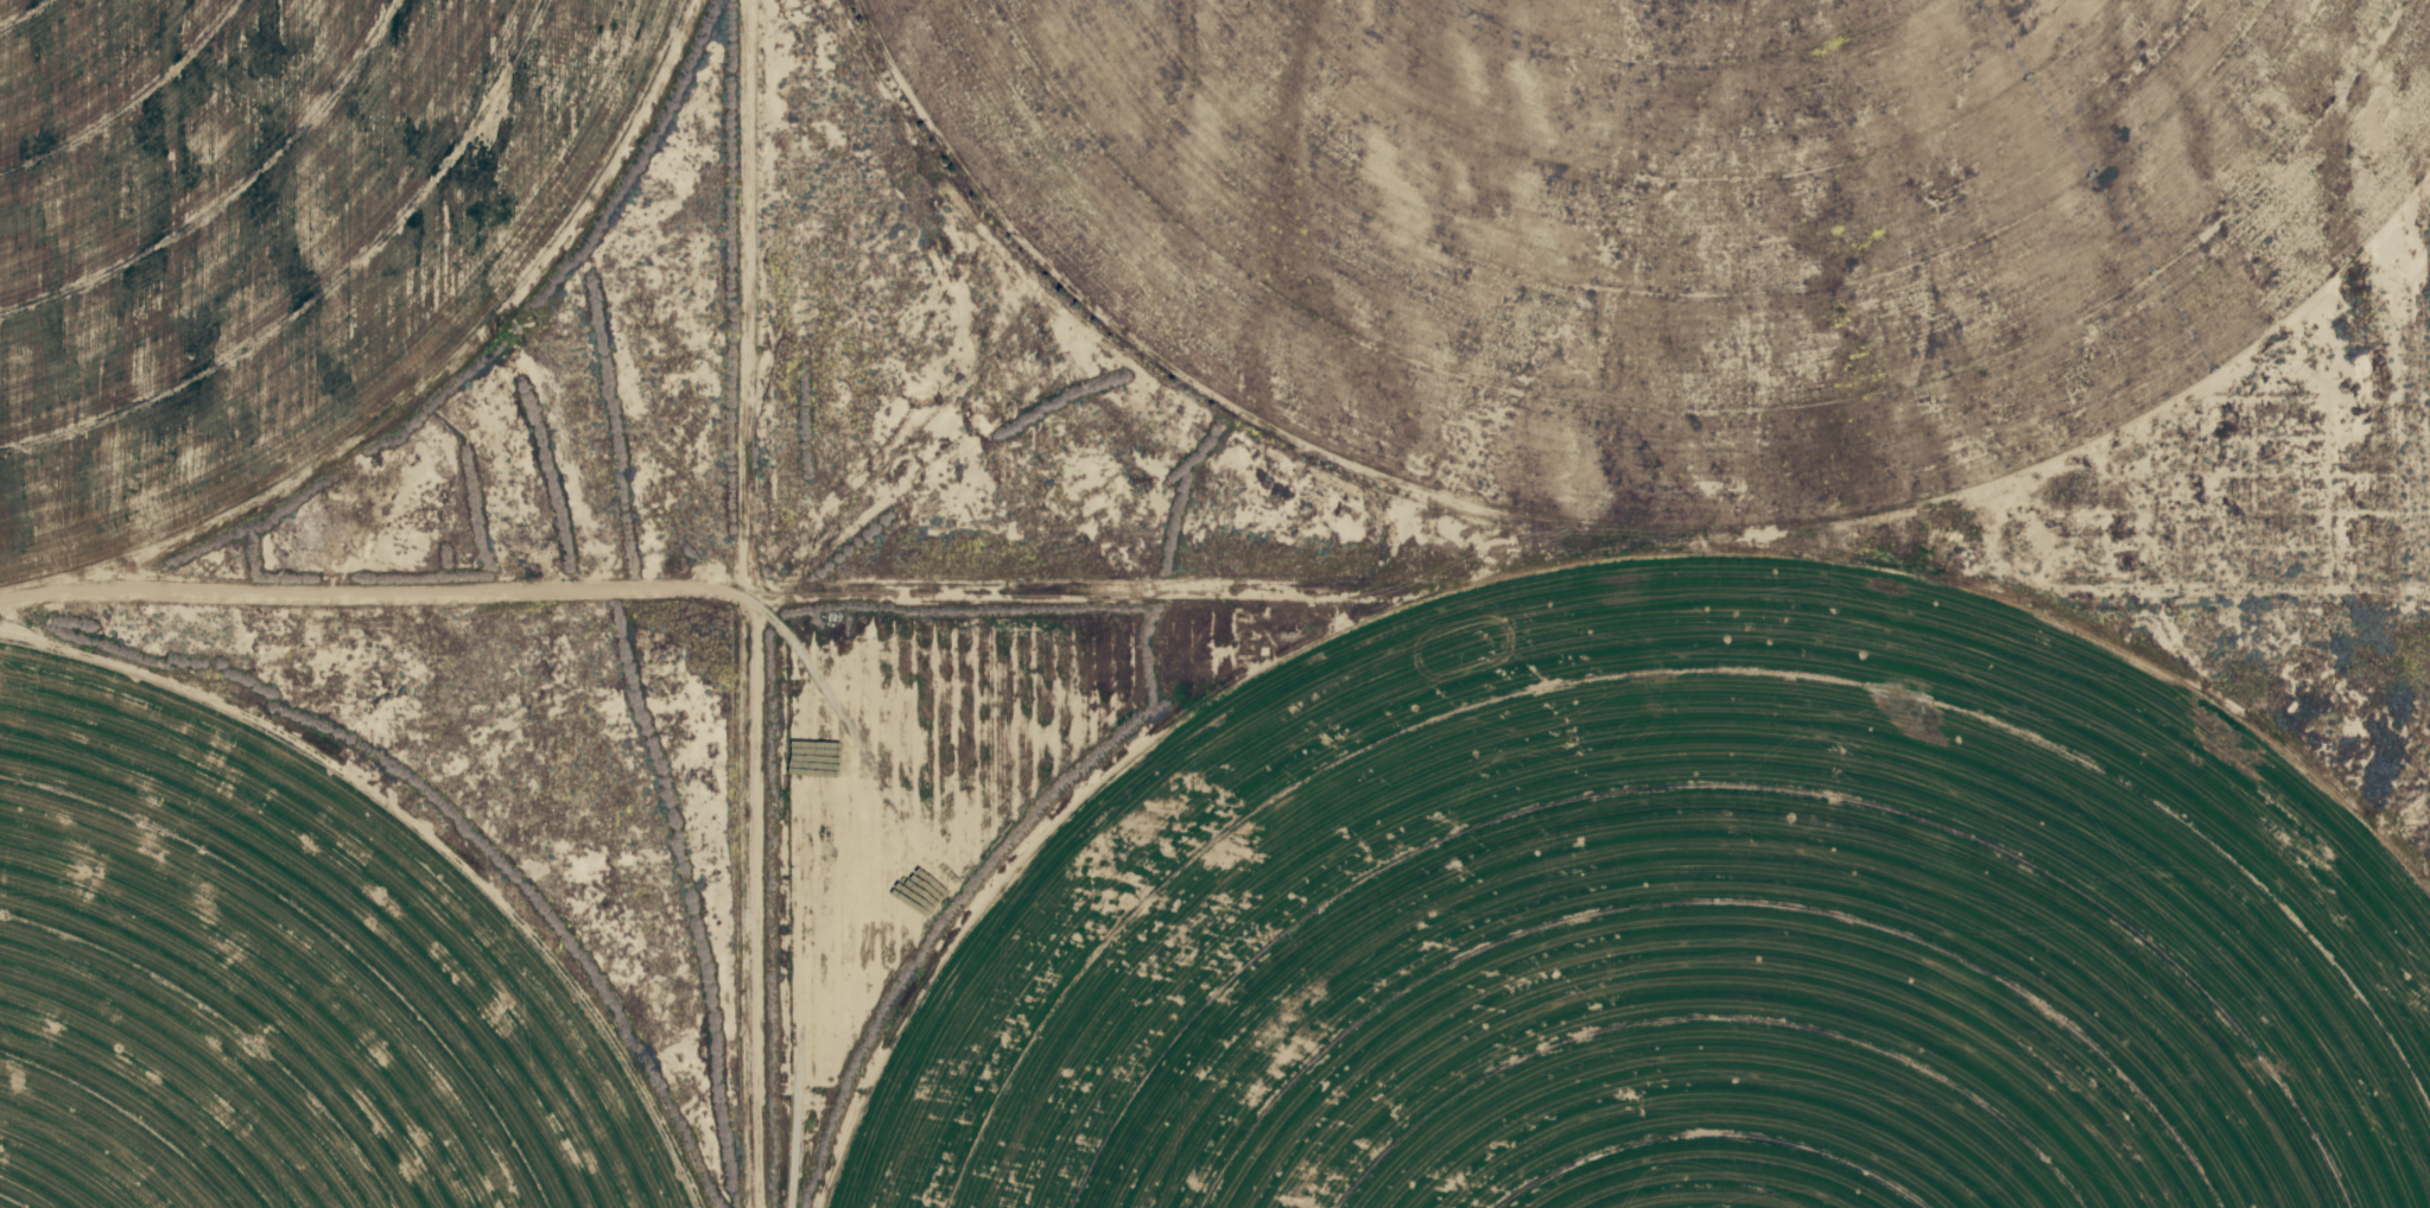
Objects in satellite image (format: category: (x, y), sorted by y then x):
crop: (274, 241)
road: (1560, 598)
road: (691, 603)
crop: (1671, 622)
crop: (274, 979)

